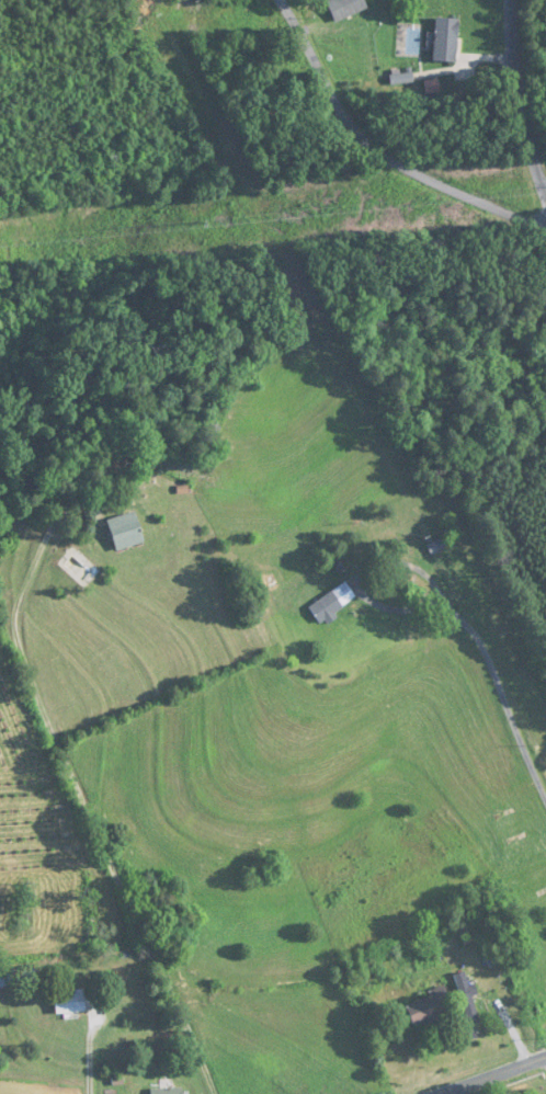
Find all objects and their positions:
building: (345, 8)
building: (445, 39)
road: (520, 96)
road: (378, 151)
building: (121, 464)
building: (125, 532)
building: (436, 547)
building: (332, 603)
road: (485, 654)
road: (87, 810)
building: (8, 978)
building: (466, 998)
building: (70, 1002)
building: (429, 1008)
road: (498, 1078)
building: (167, 1091)

